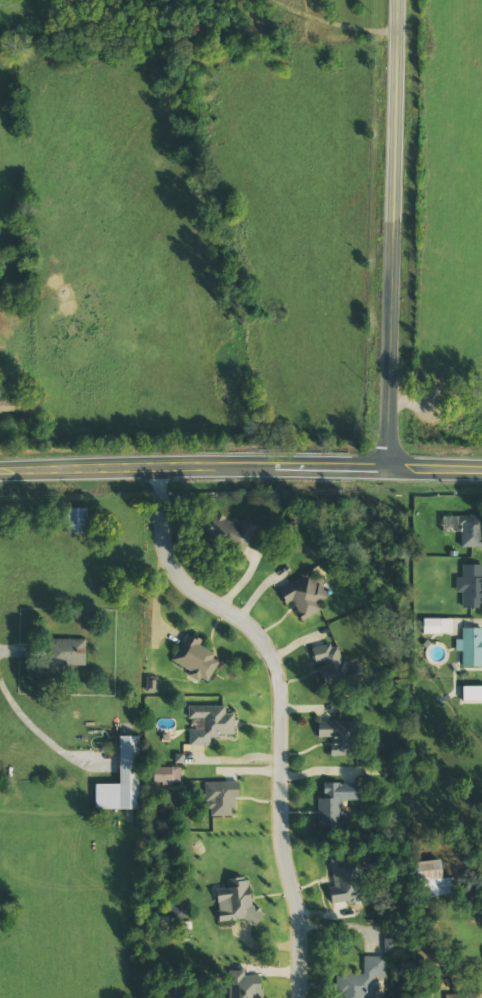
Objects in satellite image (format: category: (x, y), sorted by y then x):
road: (393, 233)
building: (12, 405)
road: (241, 464)
building: (75, 520)
building: (465, 528)
building: (230, 532)
building: (470, 585)
building: (303, 595)
building: (437, 625)
building: (471, 646)
building: (68, 651)
building: (195, 658)
building: (333, 665)
building: (472, 693)
road: (279, 708)
building: (210, 723)
building: (334, 736)
building: (166, 775)
building: (121, 779)
building: (222, 797)
building: (334, 803)
building: (433, 879)
building: (344, 881)
building: (236, 902)
building: (361, 979)
building: (244, 985)
building: (465, 995)

